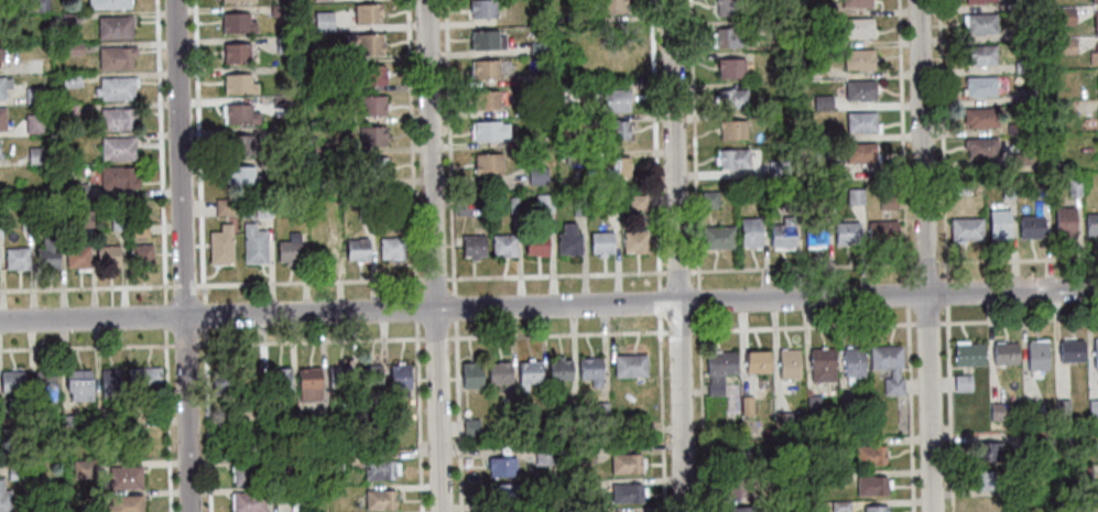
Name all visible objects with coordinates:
building: (236, 0)
building: (318, 0)
building: (977, 0)
building: (1094, 0)
building: (855, 2)
building: (2, 3)
building: (108, 3)
building: (33, 4)
building: (1011, 4)
building: (611, 6)
building: (728, 7)
building: (482, 8)
building: (278, 10)
building: (826, 10)
building: (367, 12)
building: (1064, 13)
building: (575, 15)
building: (69, 19)
building: (1, 21)
building: (322, 21)
building: (237, 22)
building: (1095, 22)
building: (980, 23)
building: (113, 26)
building: (776, 26)
building: (857, 28)
building: (1022, 32)
building: (728, 36)
building: (486, 39)
building: (825, 41)
building: (366, 42)
building: (284, 44)
building: (1066, 46)
building: (535, 47)
building: (72, 48)
building: (236, 52)
building: (980, 54)
building: (330, 55)
building: (1094, 55)
building: (1, 57)
building: (116, 57)
building: (858, 58)
building: (1022, 66)
building: (730, 67)
building: (485, 68)
building: (809, 68)
building: (787, 73)
building: (370, 75)
building: (544, 76)
building: (69, 79)
building: (1097, 81)
building: (239, 84)
building: (330, 85)
building: (3, 86)
building: (979, 86)
building: (116, 87)
building: (859, 89)
building: (569, 92)
building: (1028, 94)
building: (33, 95)
building: (731, 98)
building: (486, 99)
building: (615, 99)
building: (280, 100)
building: (822, 101)
building: (371, 105)
building: (1066, 108)
building: (238, 113)
building: (1097, 113)
building: (981, 117)
building: (117, 118)
building: (1, 119)
building: (861, 121)
building: (33, 122)
building: (1015, 128)
building: (731, 129)
building: (488, 130)
building: (613, 130)
building: (371, 135)
building: (811, 135)
building: (525, 140)
building: (241, 145)
building: (320, 145)
road: (654, 145)
road: (694, 145)
building: (980, 146)
building: (117, 148)
building: (1, 149)
road: (411, 149)
road: (449, 149)
road: (160, 152)
road: (199, 152)
building: (860, 152)
building: (35, 154)
building: (573, 154)
building: (731, 157)
building: (1020, 157)
building: (286, 163)
building: (487, 163)
building: (615, 166)
building: (822, 166)
building: (371, 167)
building: (778, 167)
building: (536, 174)
building: (242, 175)
building: (117, 177)
building: (320, 179)
building: (1073, 186)
building: (959, 188)
building: (1007, 189)
building: (77, 190)
building: (855, 196)
building: (790, 198)
building: (708, 199)
building: (888, 200)
building: (637, 201)
building: (543, 203)
building: (513, 204)
building: (224, 206)
building: (398, 206)
building: (578, 206)
building: (611, 206)
building: (365, 209)
building: (56, 217)
building: (24, 219)
building: (84, 219)
building: (118, 221)
building: (1064, 221)
building: (998, 224)
building: (1091, 225)
building: (1031, 226)
building: (138, 228)
building: (966, 229)
building: (815, 230)
building: (750, 231)
building: (882, 231)
building: (782, 232)
building: (846, 232)
building: (718, 237)
building: (568, 239)
building: (634, 241)
building: (600, 242)
building: (253, 243)
building: (535, 243)
building: (220, 244)
building: (502, 244)
building: (472, 246)
building: (391, 248)
building: (289, 249)
building: (356, 249)
building: (324, 250)
building: (46, 253)
building: (76, 253)
building: (140, 254)
building: (107, 255)
road: (182, 255)
road: (433, 255)
road: (676, 255)
road: (905, 255)
road: (924, 255)
road: (945, 255)
building: (15, 258)
road: (893, 265)
road: (678, 273)
road: (556, 276)
road: (435, 281)
road: (309, 284)
road: (184, 287)
road: (86, 290)
road: (699, 303)
road: (660, 304)
road: (548, 306)
road: (455, 309)
road: (416, 312)
road: (205, 317)
road: (165, 318)
road: (894, 326)
road: (680, 334)
road: (557, 336)
road: (436, 340)
road: (311, 344)
road: (184, 347)
road: (86, 349)
building: (1072, 350)
building: (1004, 352)
building: (1096, 352)
building: (969, 353)
building: (1036, 355)
building: (757, 361)
building: (789, 363)
building: (852, 363)
building: (822, 364)
building: (888, 364)
building: (629, 366)
building: (559, 369)
building: (718, 369)
building: (590, 370)
building: (498, 372)
building: (529, 372)
building: (369, 374)
building: (470, 374)
building: (339, 375)
building: (399, 377)
building: (142, 378)
building: (247, 379)
building: (278, 379)
building: (220, 381)
building: (11, 382)
building: (961, 382)
building: (110, 383)
building: (308, 383)
building: (44, 384)
building: (78, 384)
building: (570, 404)
building: (812, 404)
building: (747, 405)
building: (1062, 407)
building: (1092, 408)
building: (600, 411)
building: (844, 411)
building: (997, 411)
building: (1033, 411)
road: (702, 413)
road: (661, 414)
road: (418, 417)
road: (458, 417)
building: (151, 420)
building: (784, 420)
building: (100, 421)
road: (206, 421)
road: (166, 422)
building: (68, 423)
building: (470, 426)
building: (1070, 437)
building: (6, 438)
building: (1035, 443)
building: (989, 450)
building: (584, 453)
building: (869, 455)
building: (543, 456)
building: (737, 459)
building: (331, 460)
building: (627, 462)
building: (293, 464)
building: (83, 466)
building: (500, 466)
building: (379, 469)
building: (1079, 472)
building: (15, 473)
building: (248, 473)
building: (831, 477)
building: (124, 478)
building: (988, 479)
building: (871, 484)
building: (738, 487)
building: (502, 492)
building: (627, 492)
building: (294, 494)
building: (3, 498)
building: (379, 499)
building: (248, 502)
building: (123, 504)
building: (839, 505)
building: (504, 506)
building: (740, 509)
building: (874, 509)

